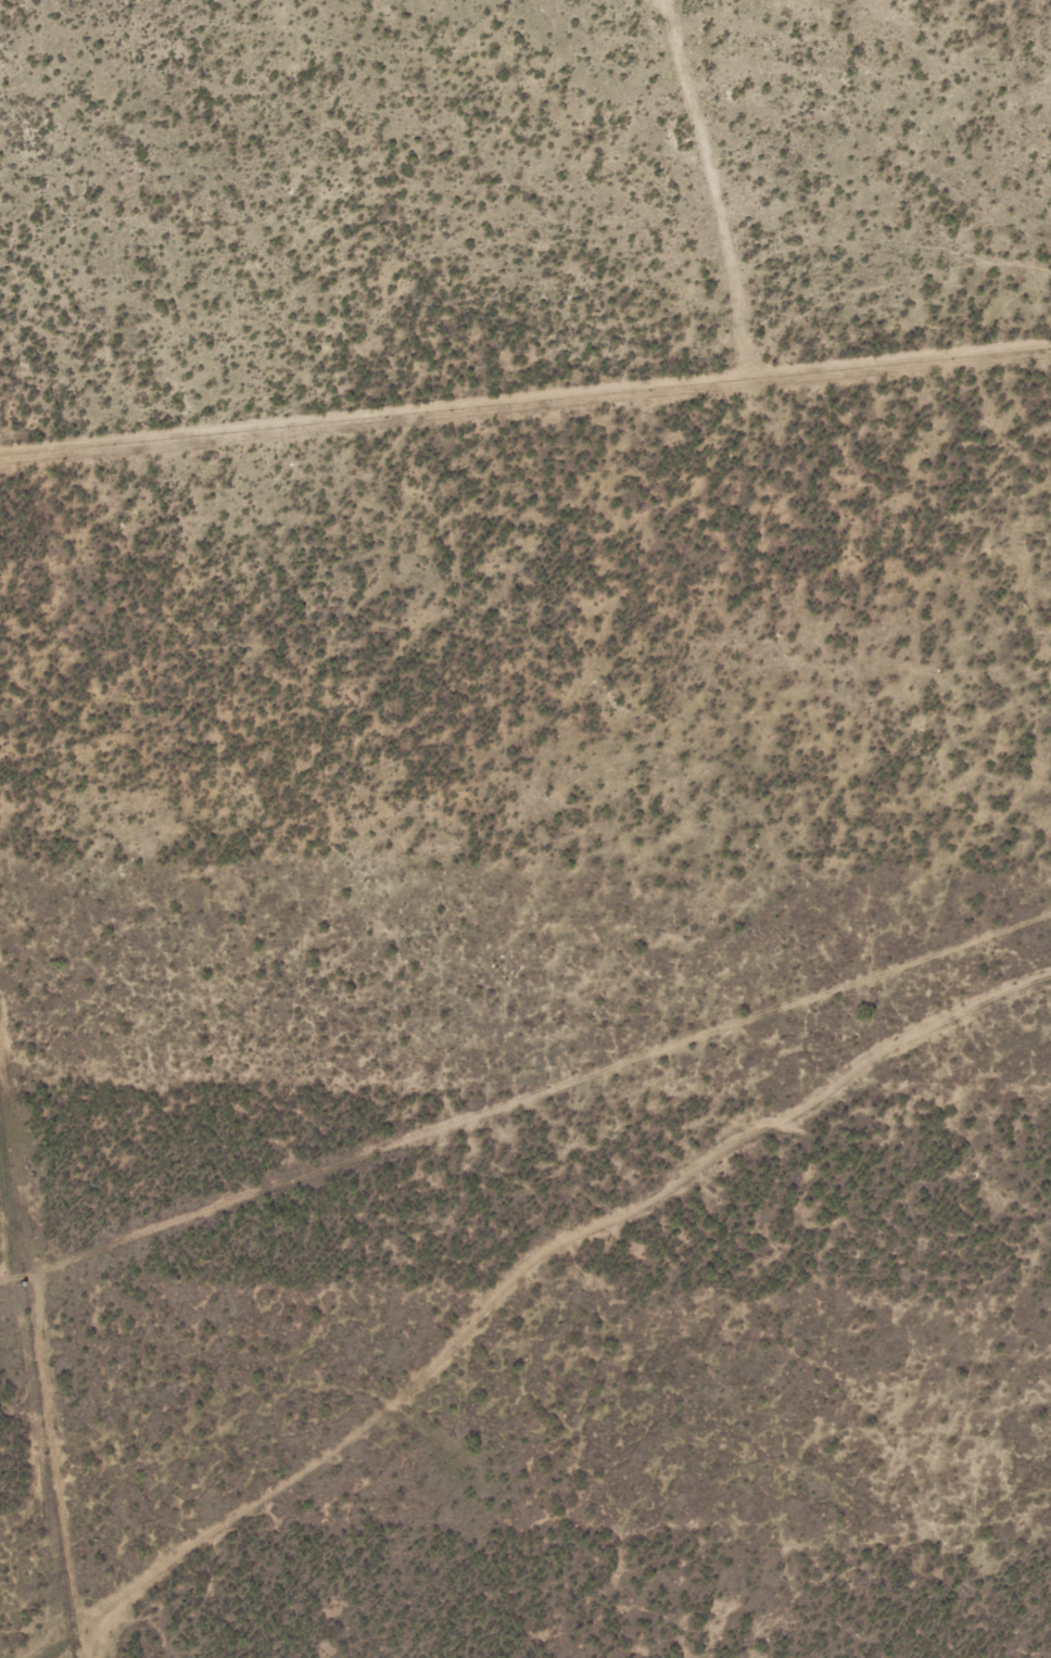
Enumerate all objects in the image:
road: (709, 187)
road: (844, 365)
road: (543, 1280)

